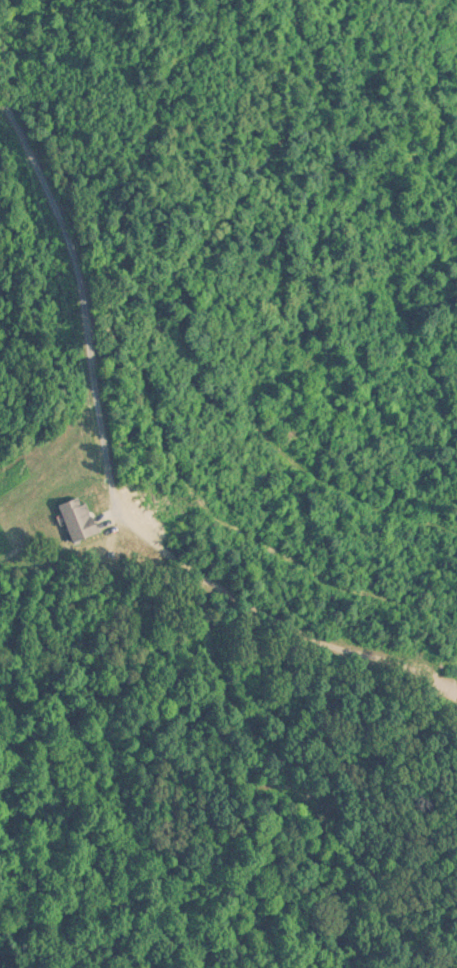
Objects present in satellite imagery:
road: (112, 487)
building: (79, 520)

